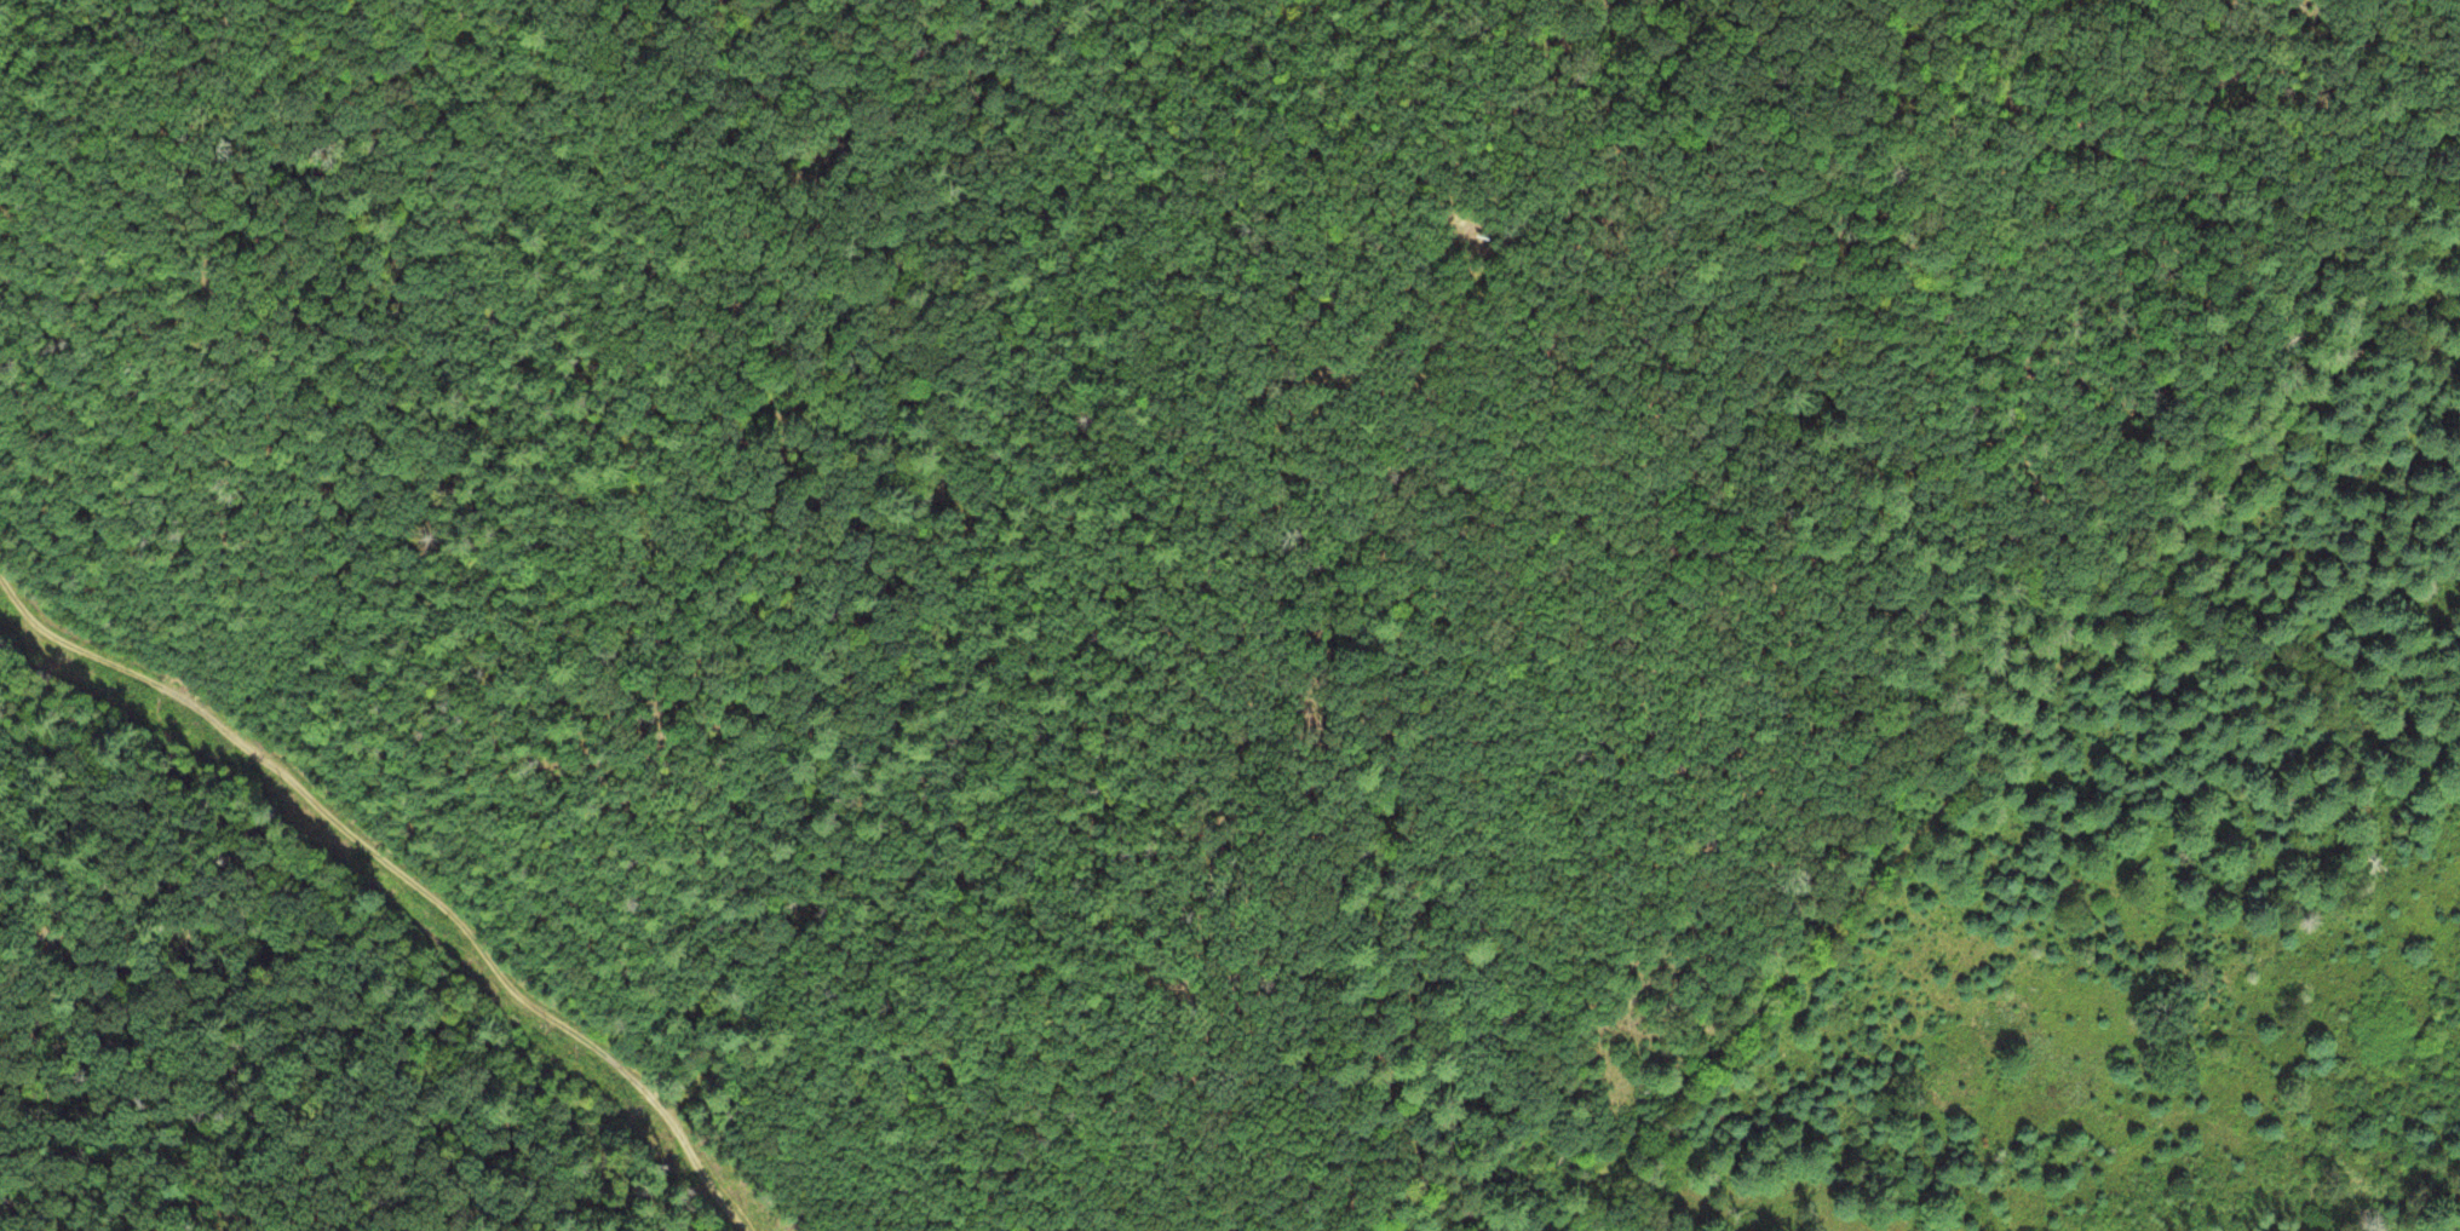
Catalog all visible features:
road: (2002, 747)
road: (396, 880)
road: (1201, 927)

